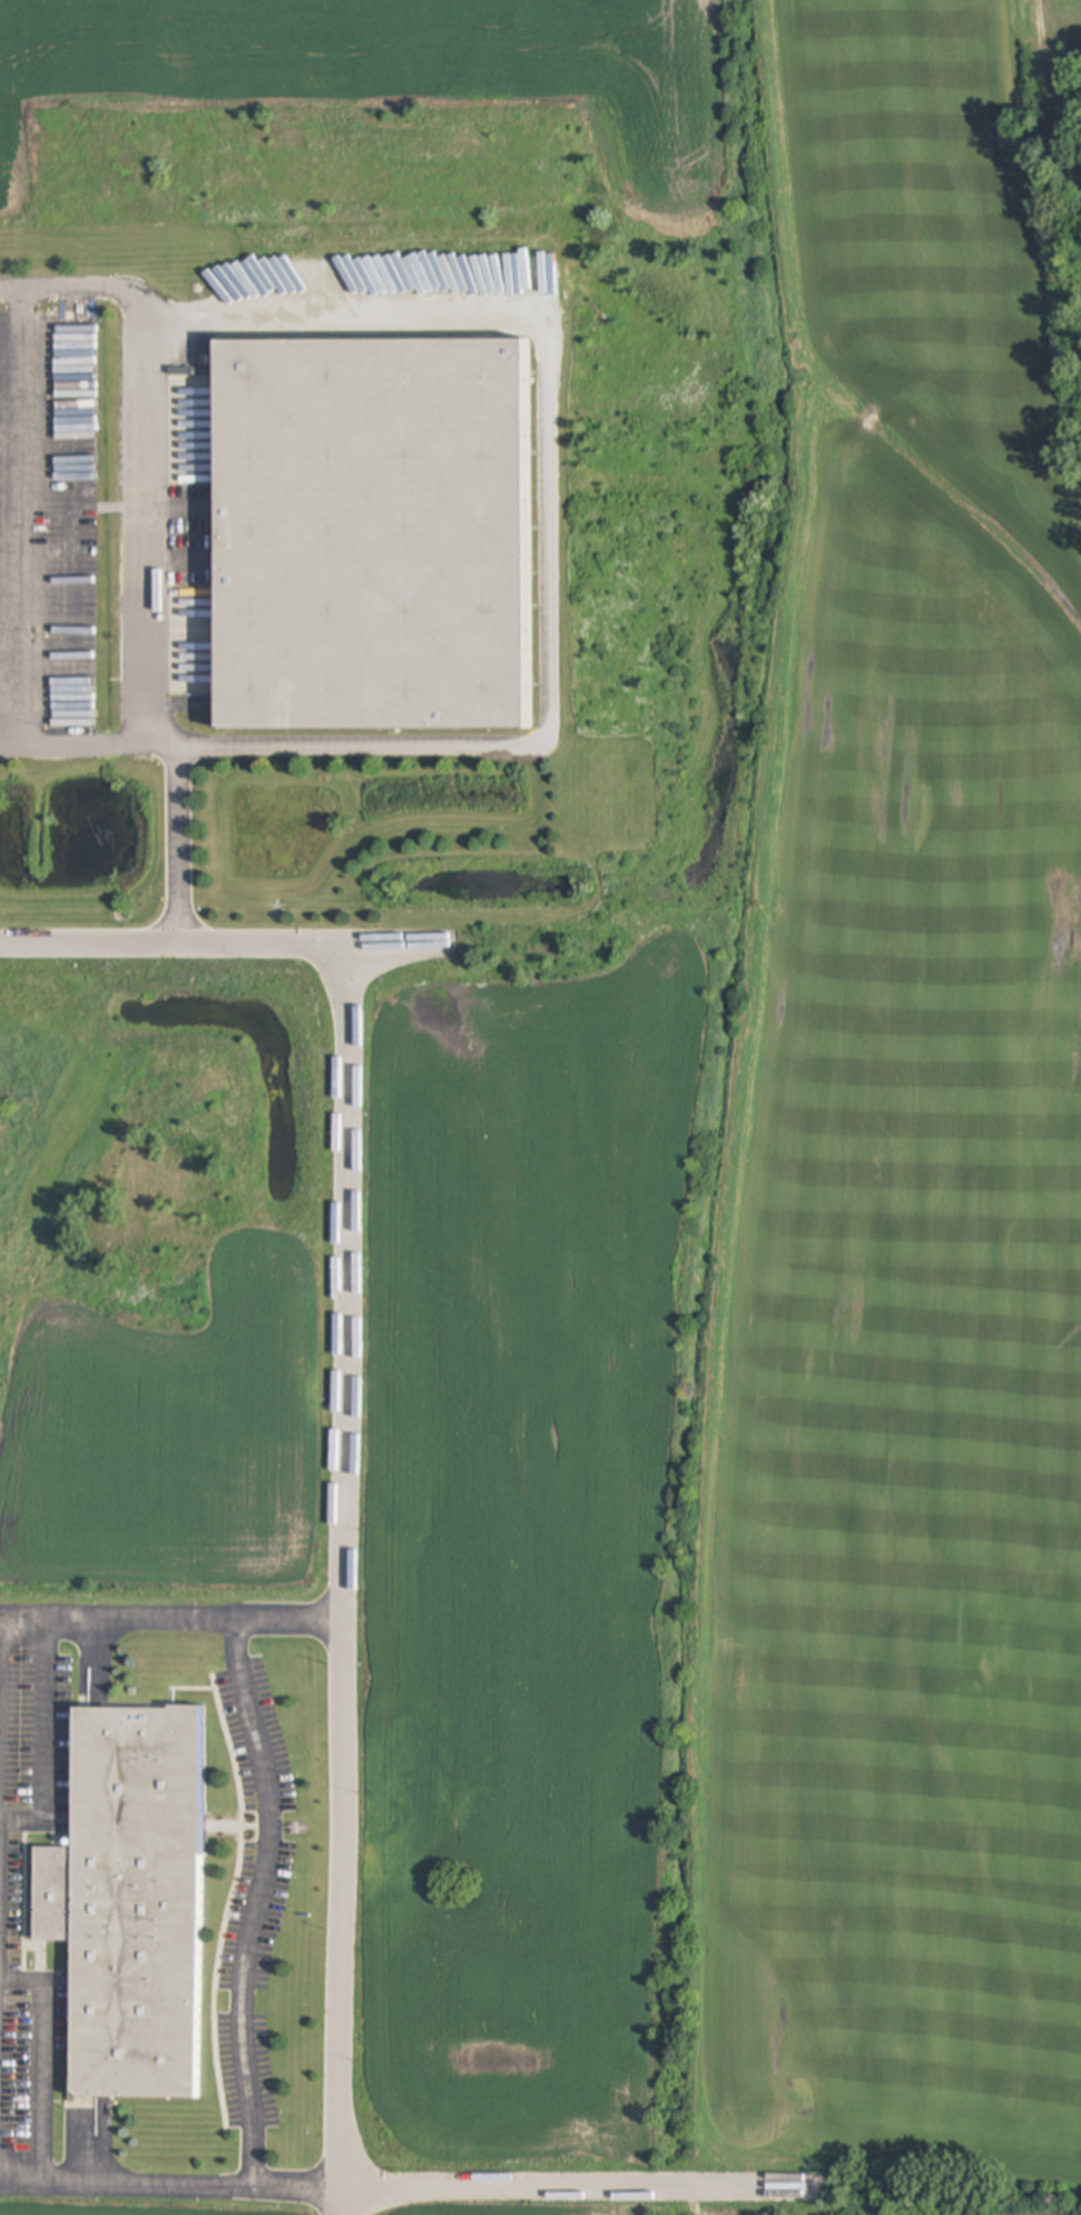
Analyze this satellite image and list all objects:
building: (335, 477)
road: (19, 516)
road: (551, 523)
road: (151, 527)
road: (175, 841)
road: (219, 946)
road: (342, 1580)
road: (107, 1624)
road: (43, 1745)
building: (130, 1901)
road: (255, 1902)
road: (40, 2060)
road: (168, 2183)
road: (573, 2188)

